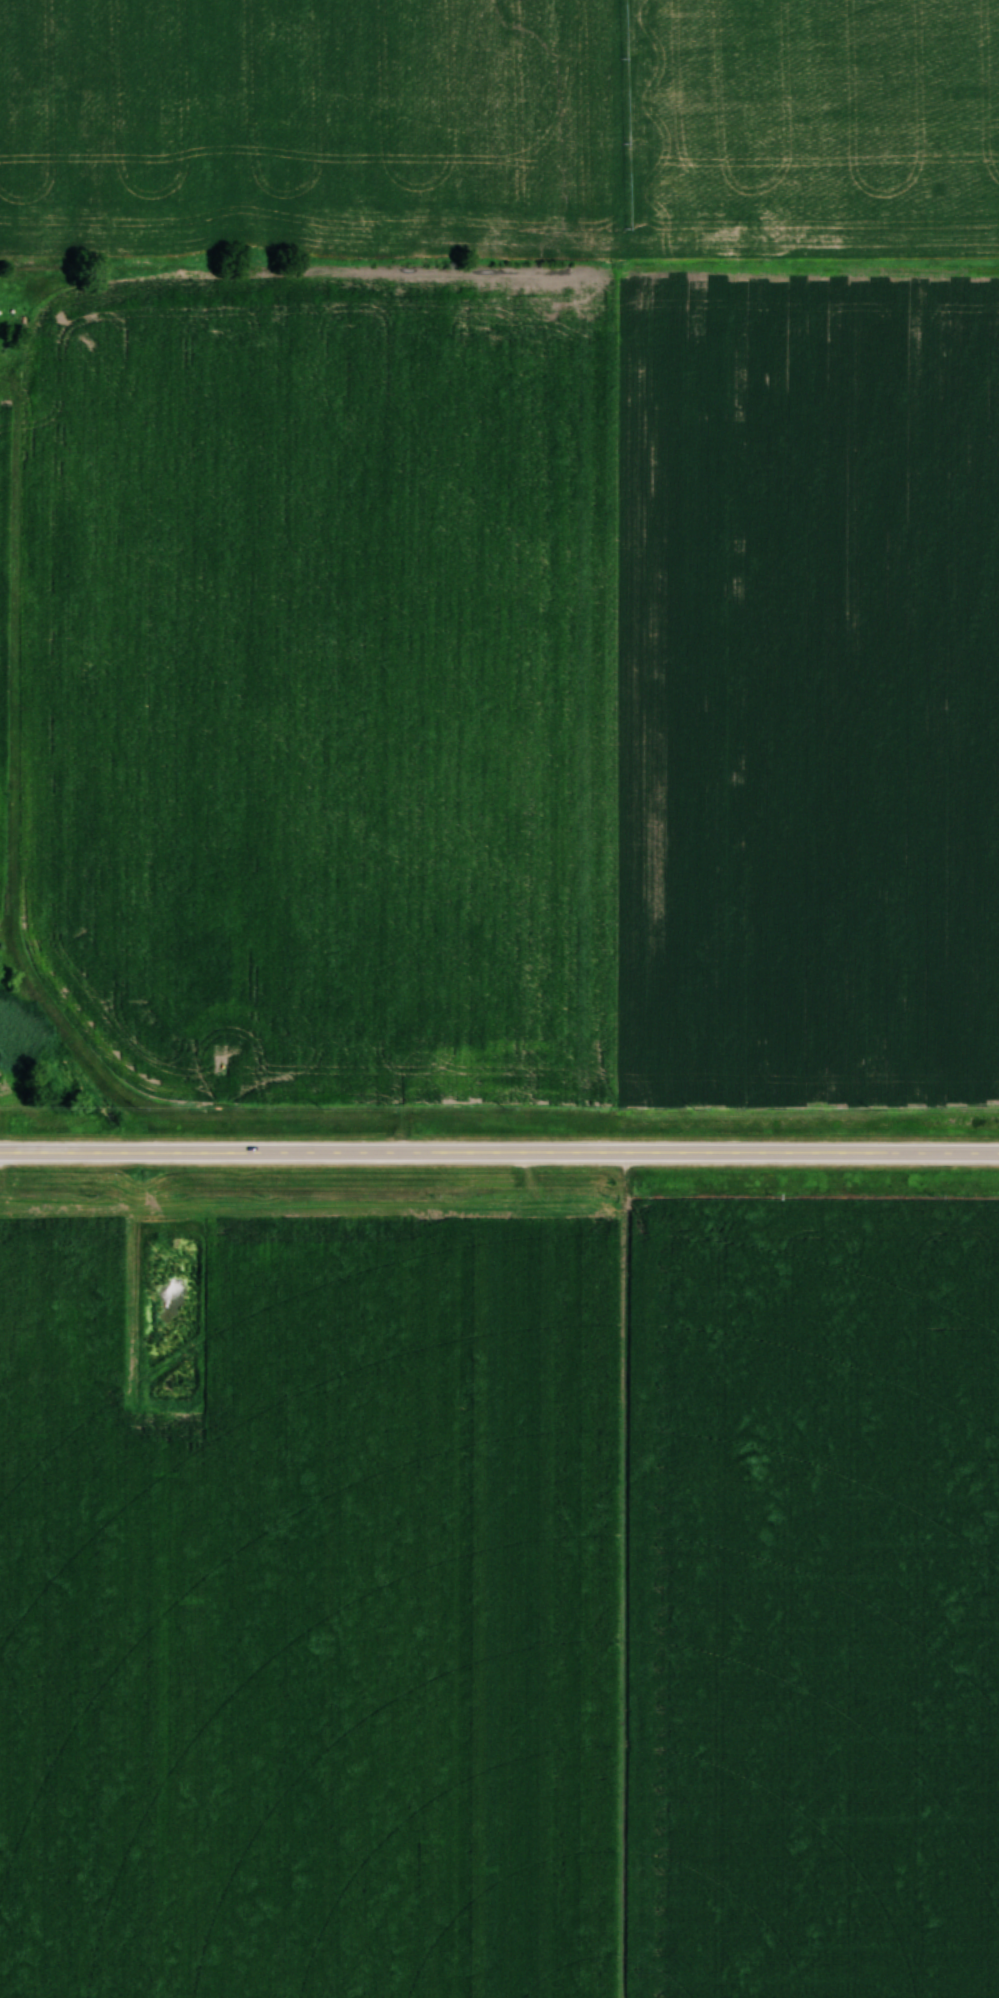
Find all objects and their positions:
road: (499, 1155)

